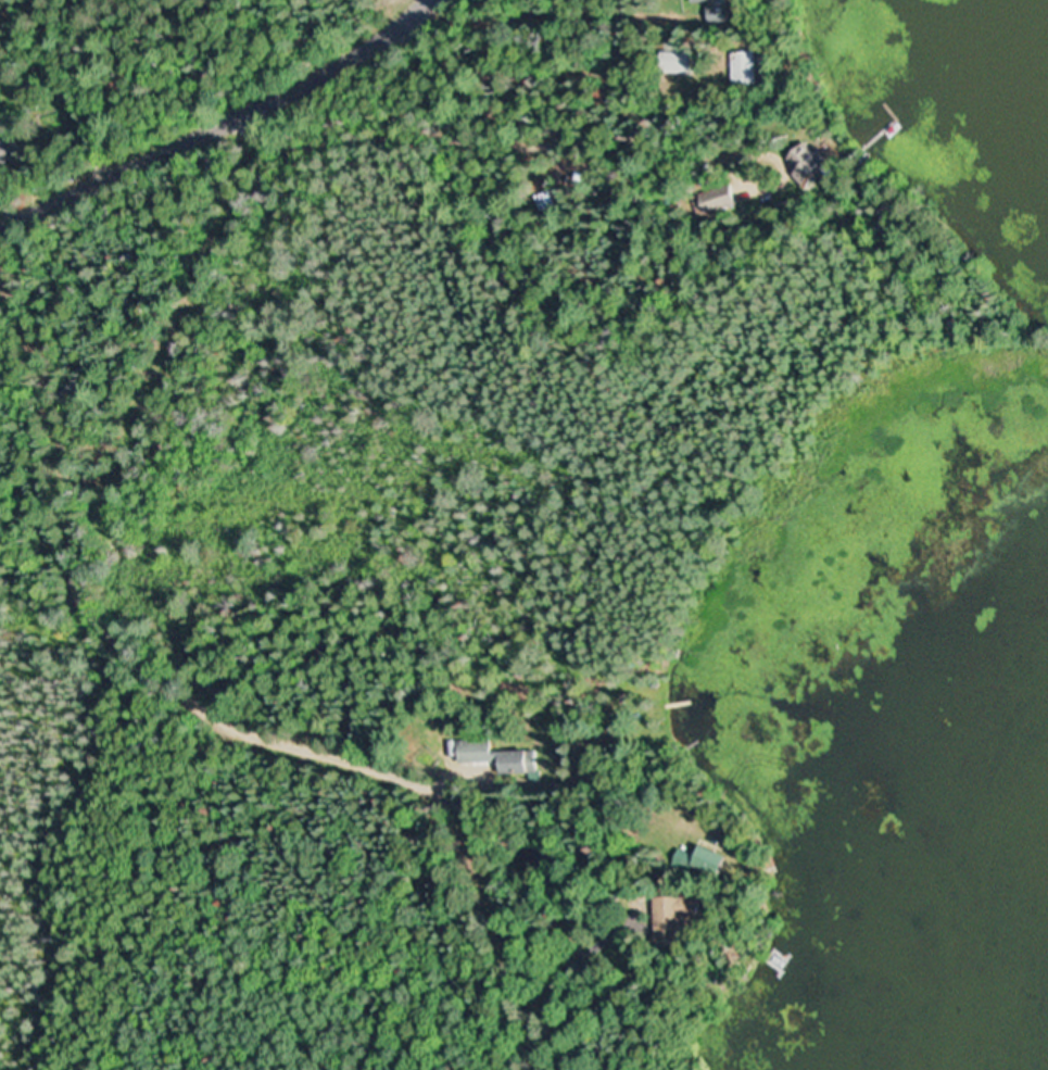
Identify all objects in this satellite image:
building: (725, 10)
building: (686, 62)
building: (748, 64)
road: (218, 122)
building: (10, 152)
building: (810, 166)
building: (720, 199)
road: (236, 713)
building: (497, 757)
building: (720, 860)
building: (677, 921)
road: (7, 1048)

